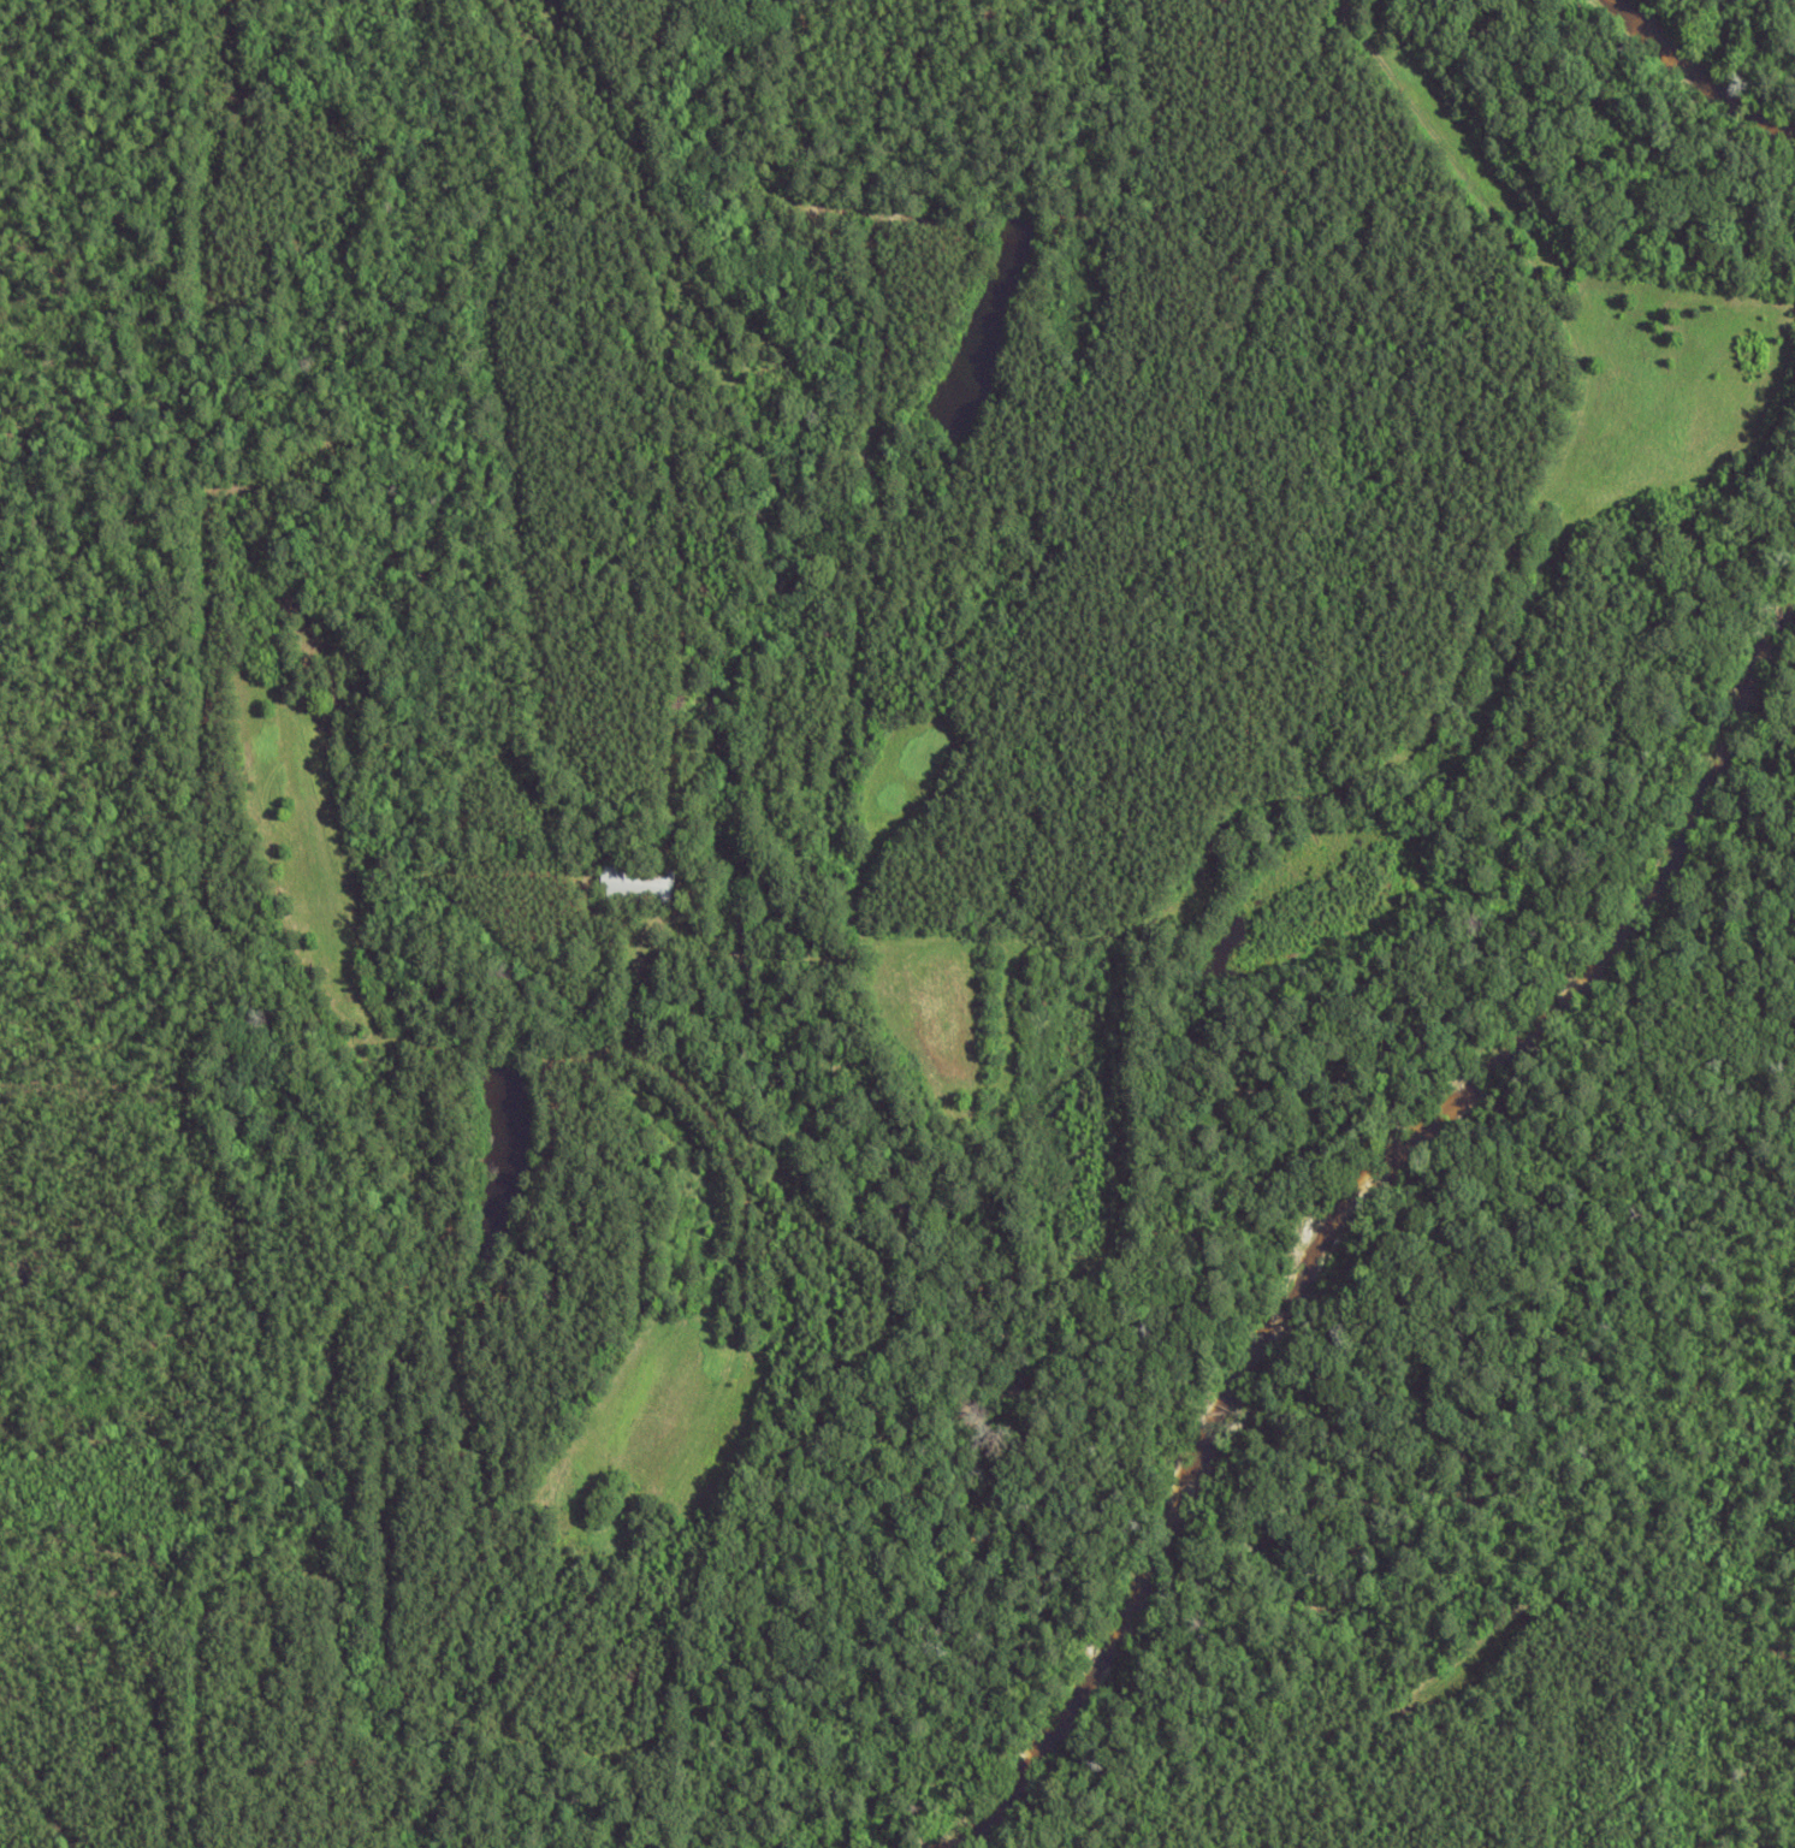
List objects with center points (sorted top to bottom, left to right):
river: (1700, 73)
building: (640, 885)
road: (1036, 934)
river: (1345, 1216)

